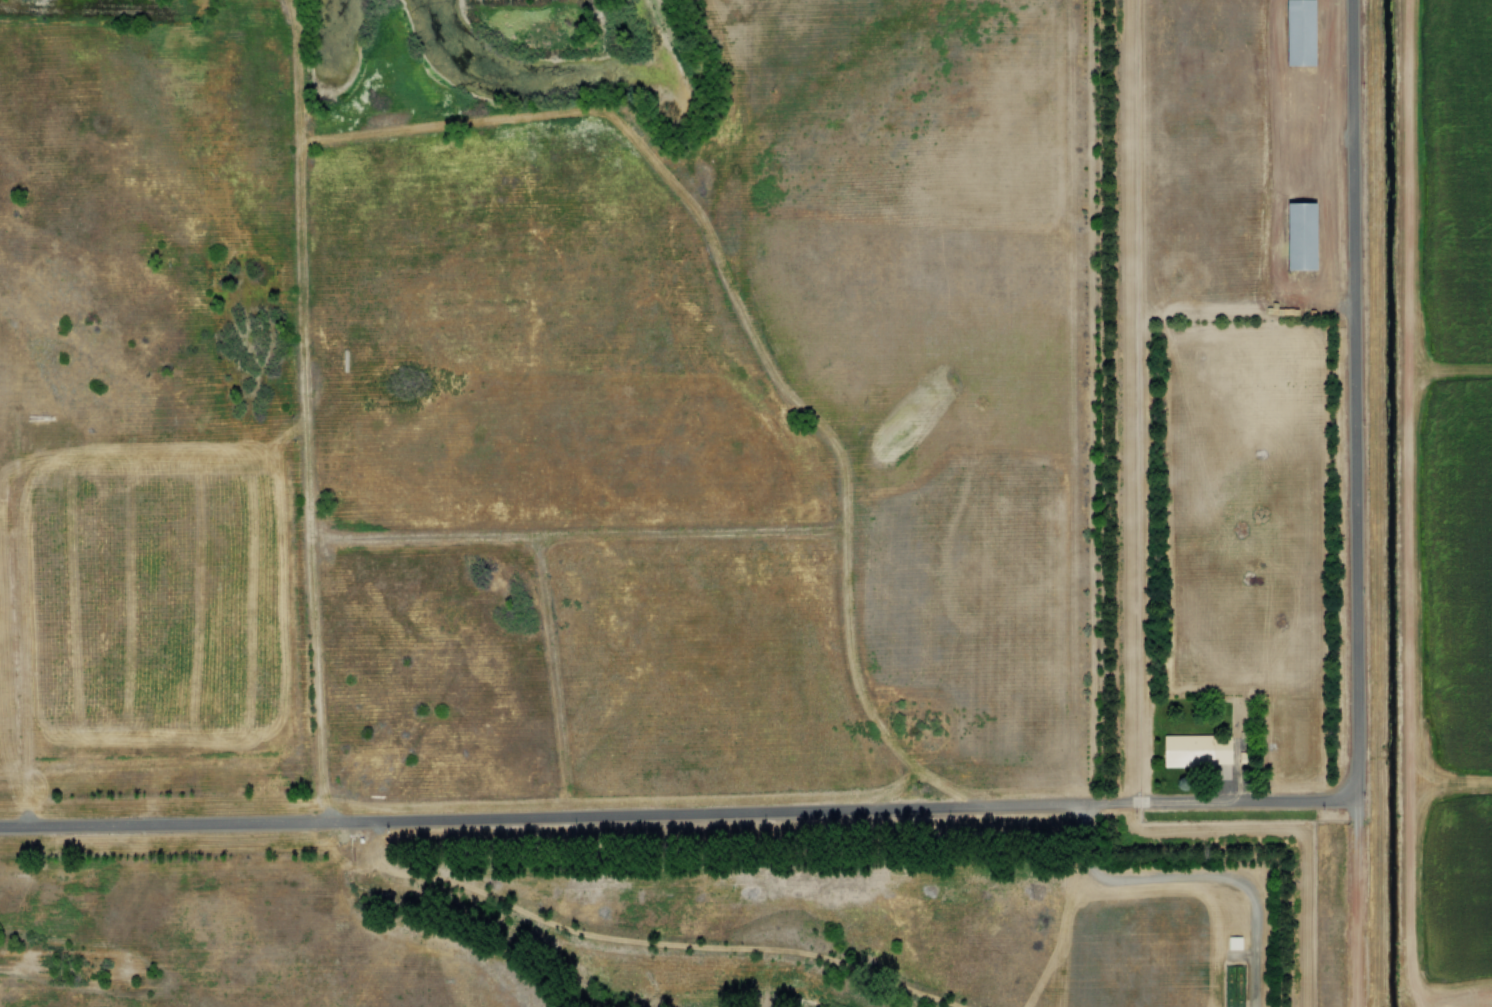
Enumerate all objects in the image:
building: (1304, 33)
building: (1305, 237)

